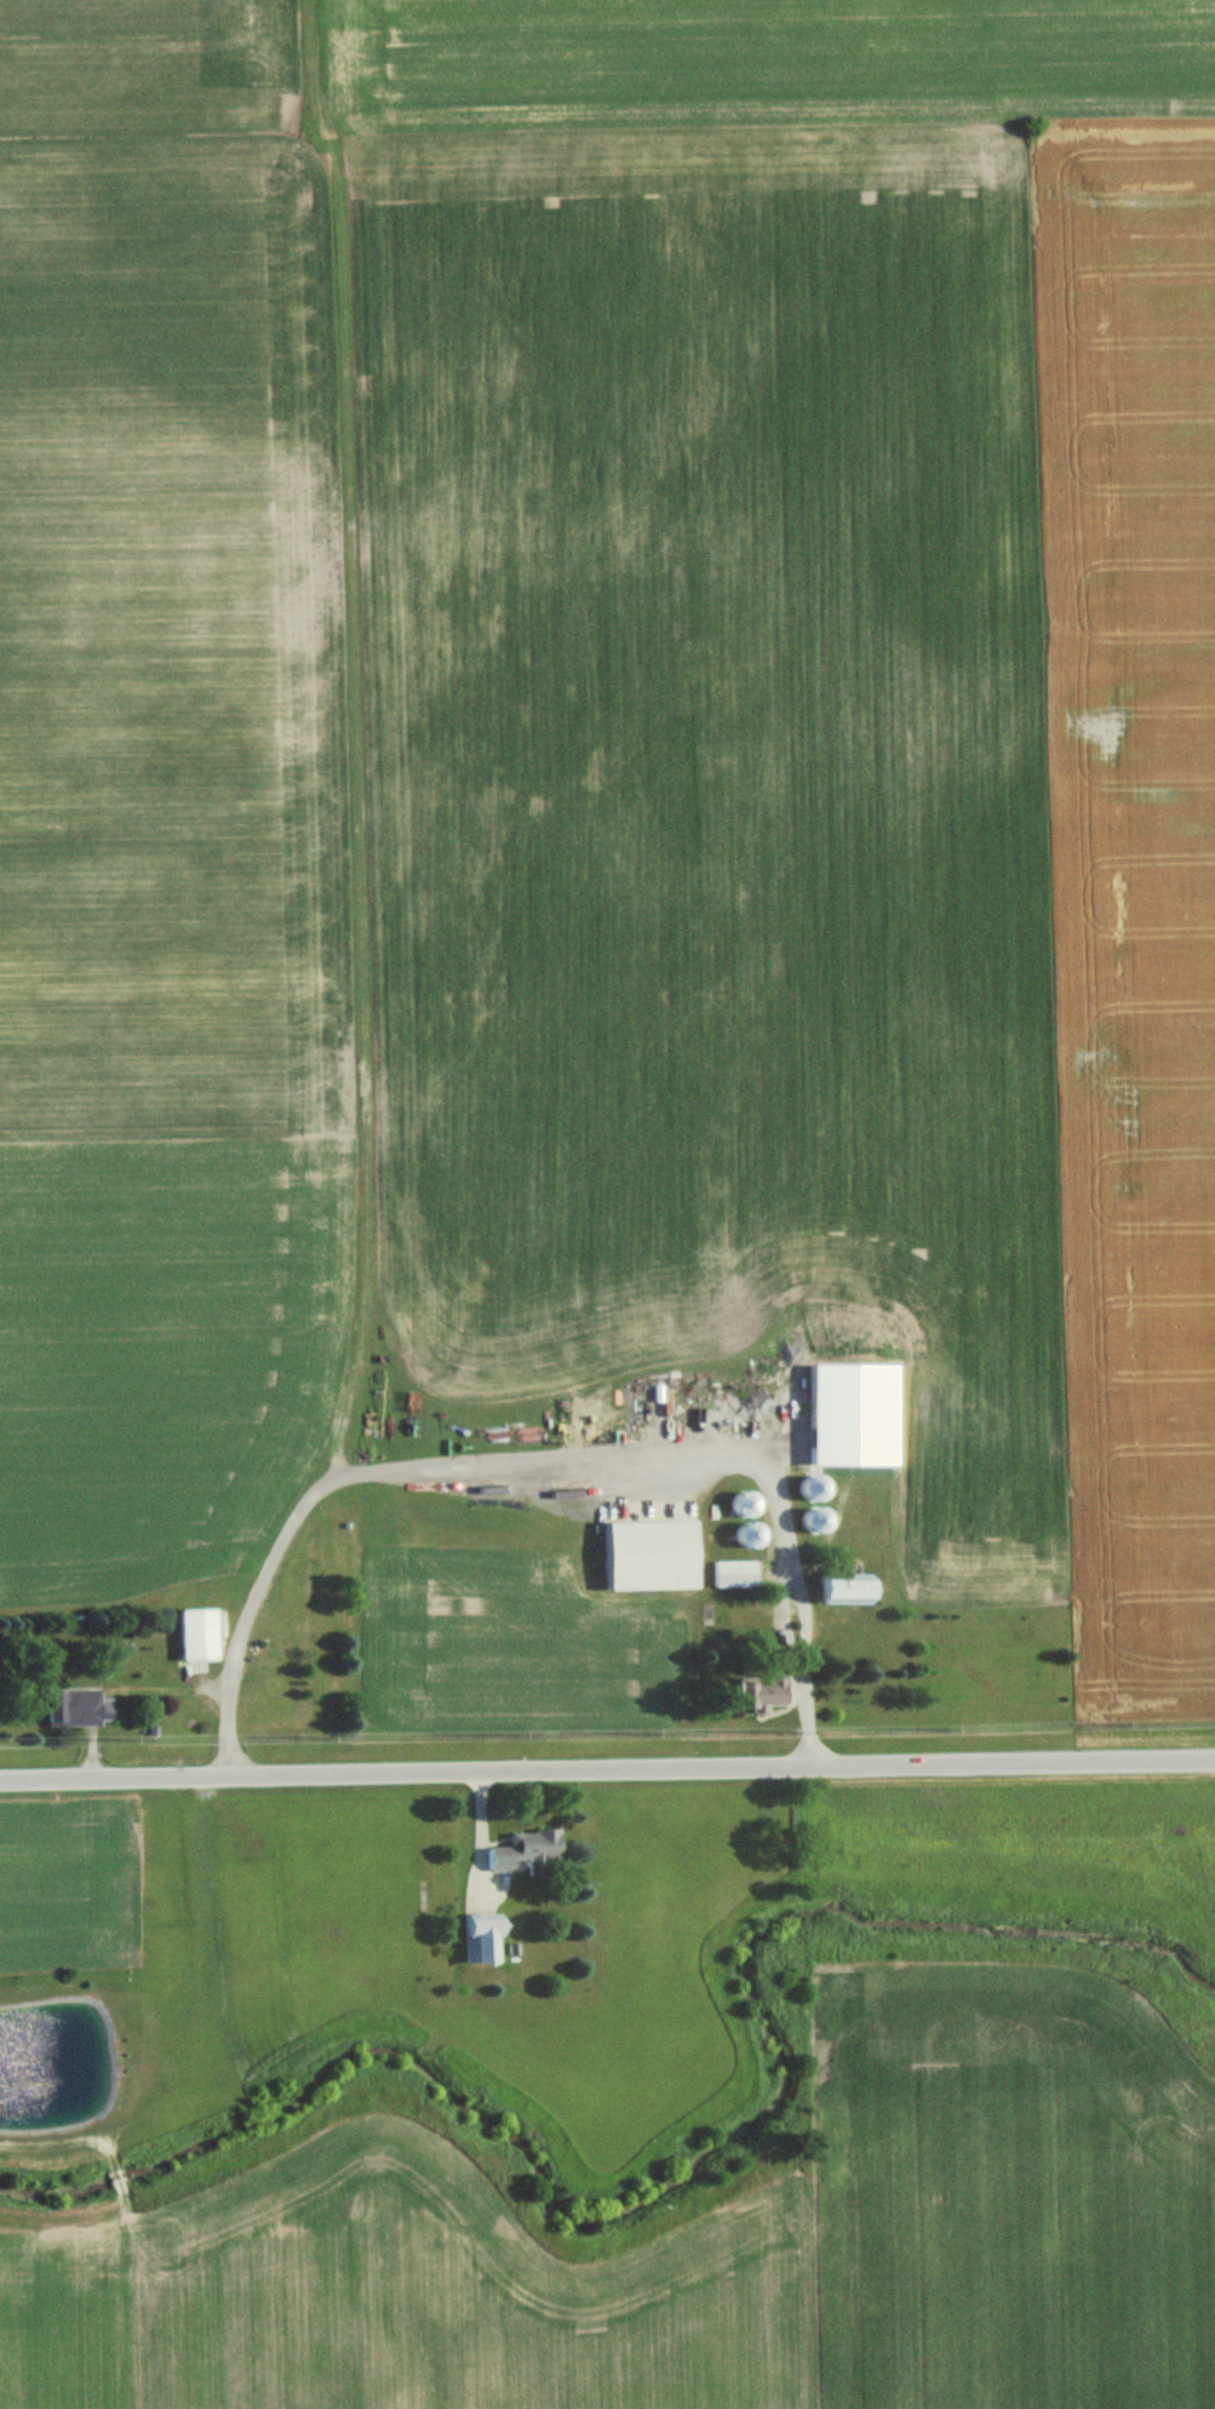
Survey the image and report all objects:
crop: (791, 733)
crop: (161, 795)
building: (852, 1415)
road: (538, 1458)
building: (647, 1556)
building: (728, 1575)
building: (847, 1590)
building: (194, 1636)
building: (758, 1694)
road: (122, 1704)
building: (75, 1709)
road: (607, 1770)
building: (522, 1852)
building: (478, 1940)
crop: (1009, 2209)
crop: (400, 2299)

